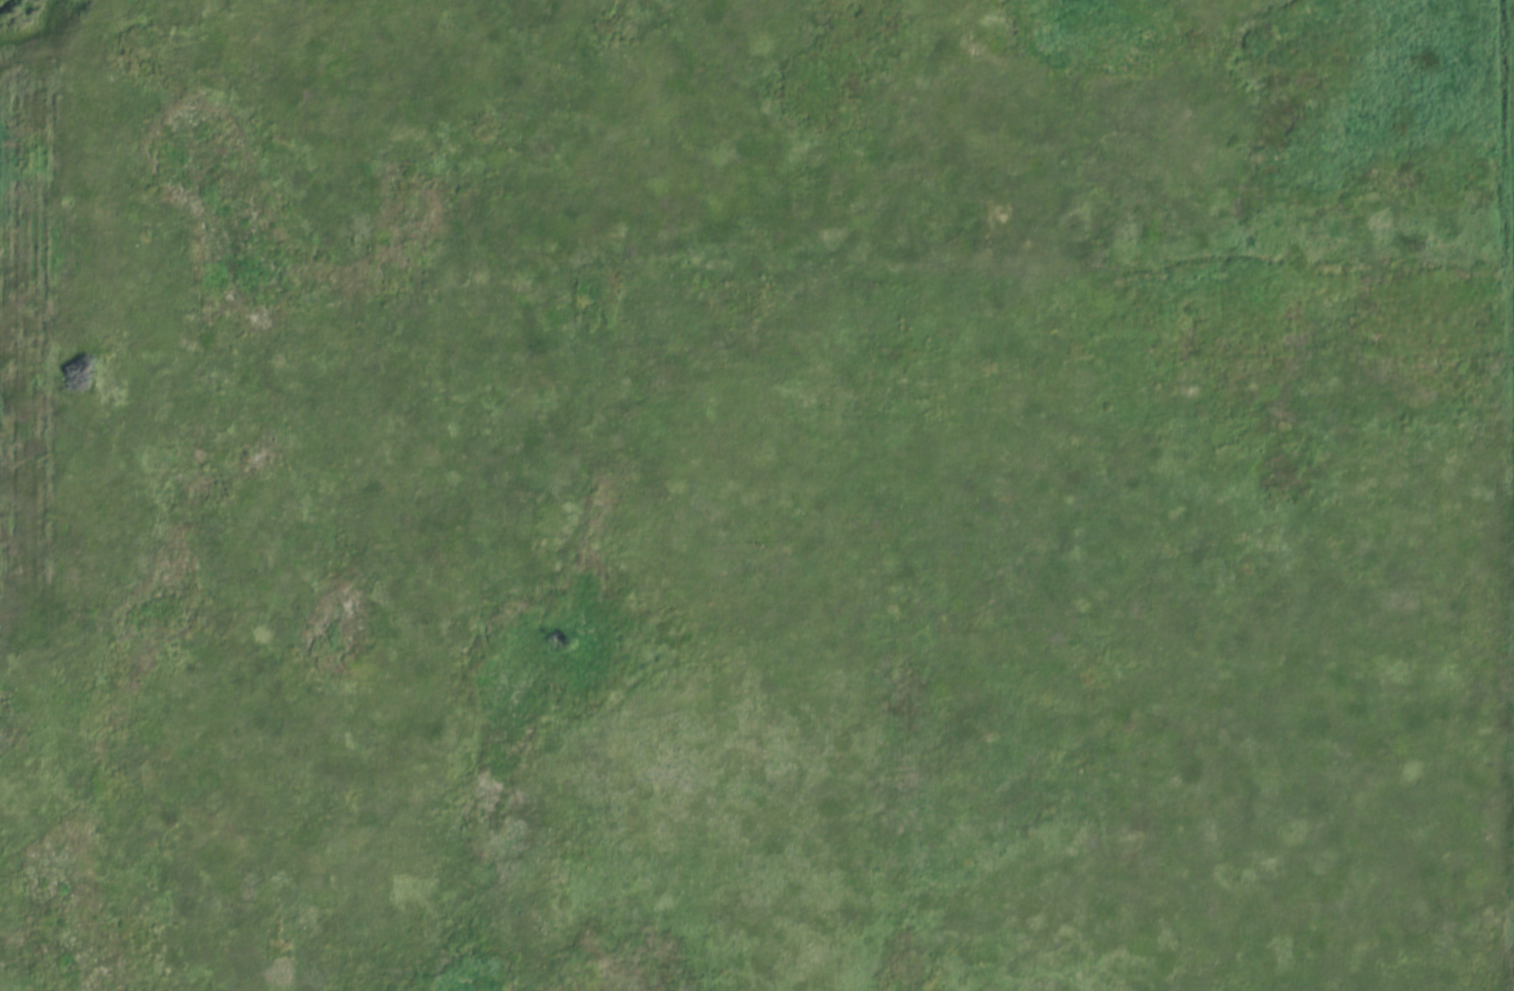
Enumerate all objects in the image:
road: (1512, 39)

